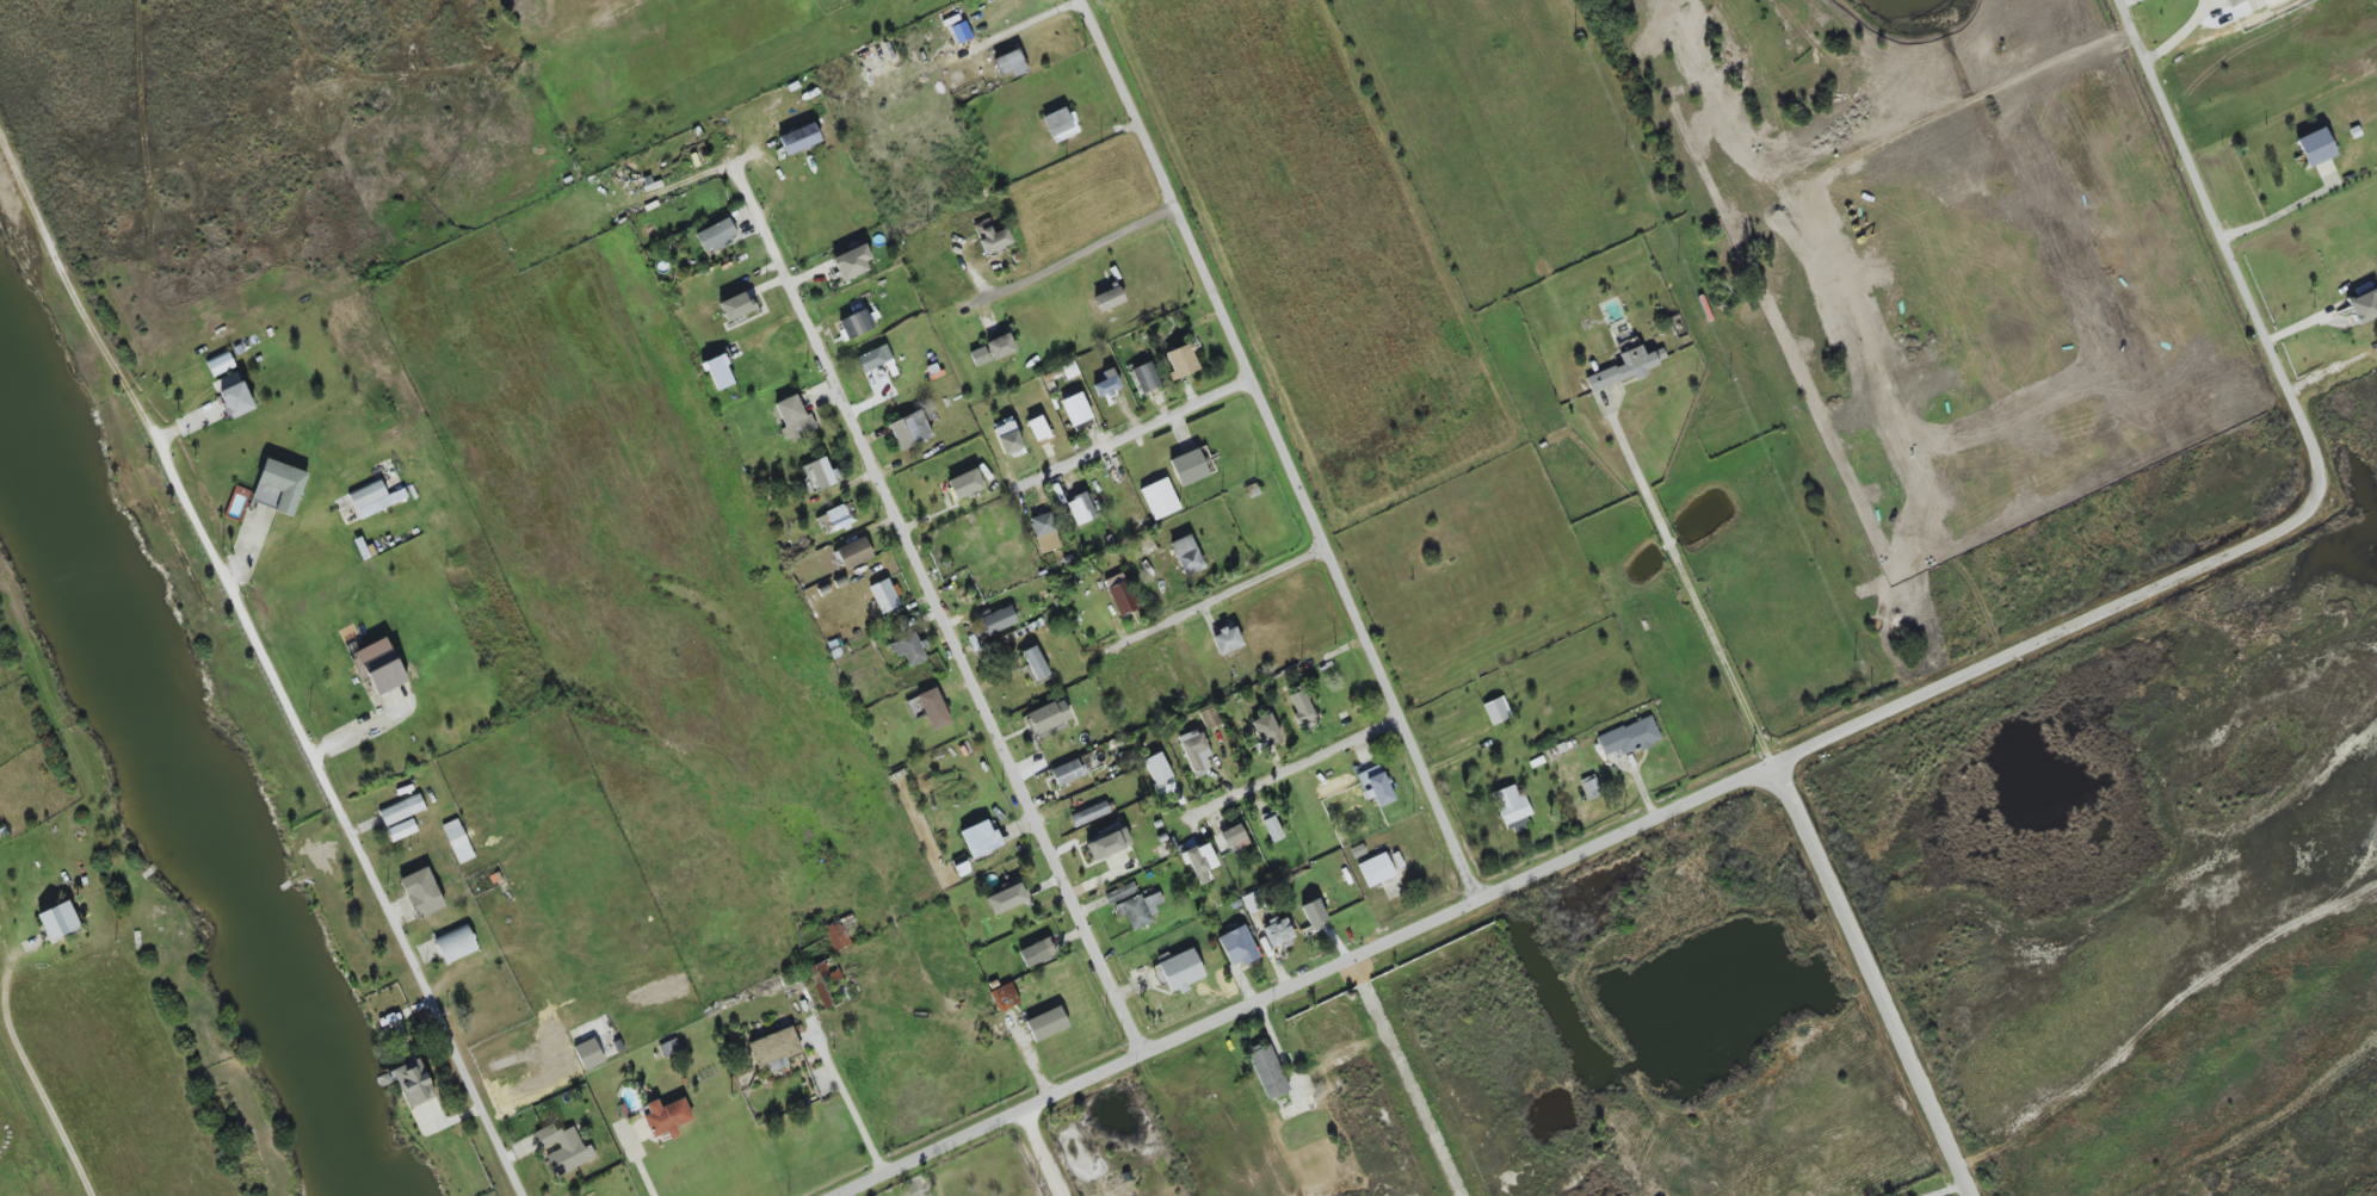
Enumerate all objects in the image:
road: (2120, 0)
building: (2231, 2)
road: (1043, 17)
building: (961, 32)
road: (2179, 35)
building: (1010, 63)
road: (1930, 120)
building: (1060, 124)
building: (799, 140)
building: (2314, 148)
road: (2197, 182)
road: (2278, 212)
road: (755, 215)
building: (716, 236)
building: (990, 237)
building: (851, 262)
road: (1055, 266)
building: (1109, 299)
building: (736, 306)
building: (2363, 306)
building: (856, 324)
building: (1000, 347)
building: (978, 357)
building: (875, 358)
building: (1181, 361)
building: (220, 364)
building: (1626, 367)
building: (718, 373)
building: (1144, 378)
building: (1106, 384)
building: (233, 396)
building: (1076, 410)
building: (794, 419)
building: (1038, 428)
building: (909, 429)
road: (1132, 433)
building: (1007, 436)
road: (1282, 448)
building: (1188, 467)
building: (817, 475)
building: (965, 484)
building: (279, 487)
building: (375, 498)
building: (1159, 498)
building: (1080, 509)
building: (835, 519)
building: (1044, 533)
building: (854, 553)
building: (1186, 556)
road: (218, 566)
road: (1692, 593)
building: (1120, 594)
building: (884, 596)
road: (1217, 601)
building: (998, 620)
building: (1225, 640)
building: (909, 649)
building: (1035, 663)
road: (965, 665)
building: (381, 667)
building: (933, 708)
building: (1302, 709)
building: (1496, 711)
building: (1048, 717)
building: (1209, 718)
building: (1265, 730)
building: (1630, 737)
building: (1194, 752)
road: (1297, 768)
building: (1157, 769)
building: (1066, 773)
building: (1375, 786)
building: (1591, 787)
building: (1511, 808)
building: (401, 810)
building: (1089, 814)
road: (1644, 823)
building: (1272, 829)
building: (401, 830)
building: (1234, 837)
building: (980, 839)
building: (457, 841)
building: (1107, 844)
building: (1199, 862)
building: (1375, 870)
building: (421, 892)
building: (1119, 893)
building: (1006, 899)
building: (1254, 901)
building: (1138, 910)
building: (1314, 913)
building: (58, 922)
building: (1278, 934)
building: (836, 936)
building: (456, 944)
building: (1237, 947)
building: (1036, 953)
road: (407, 955)
building: (1180, 971)
road: (1871, 980)
building: (823, 981)
building: (1004, 998)
building: (1047, 1023)
building: (668, 1048)
building: (774, 1049)
building: (588, 1054)
road: (30, 1070)
building: (1267, 1072)
road: (1406, 1078)
building: (413, 1083)
road: (852, 1107)
building: (666, 1117)
building: (563, 1148)
road: (1044, 1152)
road: (640, 1166)

